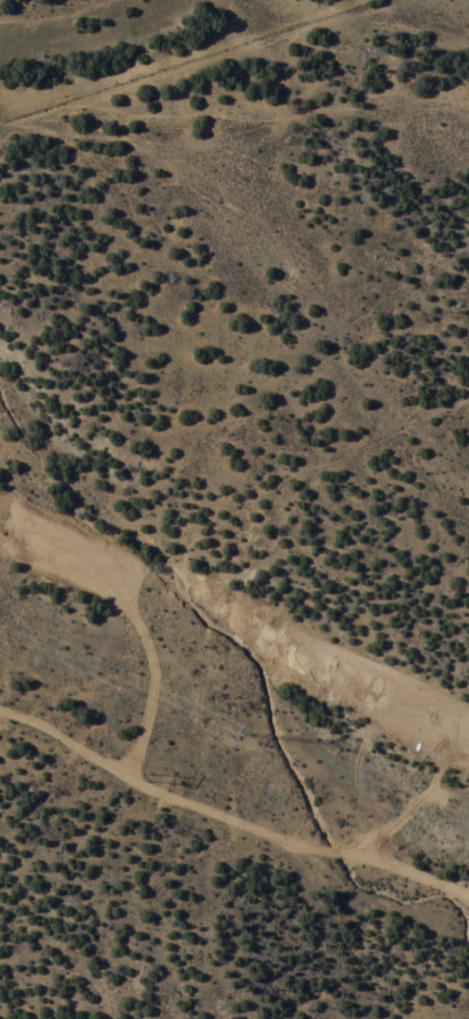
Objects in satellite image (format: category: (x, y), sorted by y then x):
power tower: (242, 731)

